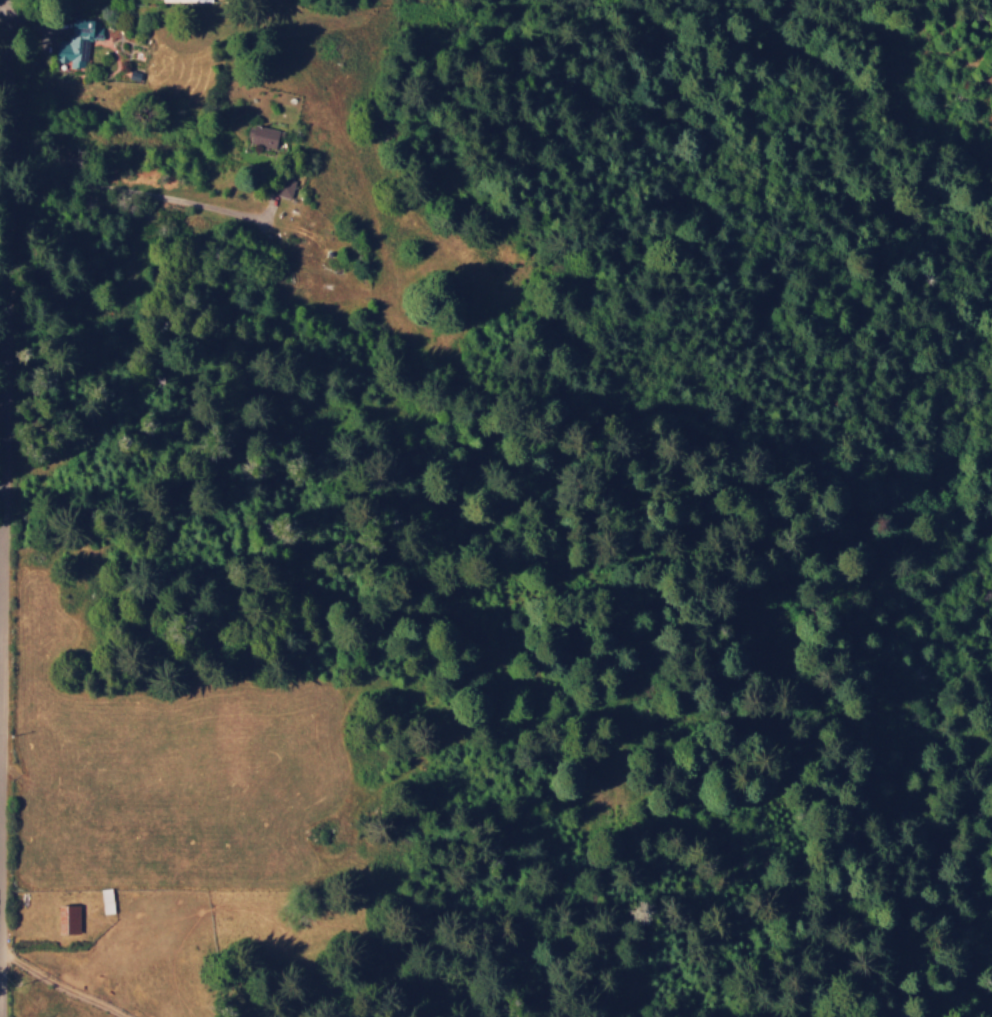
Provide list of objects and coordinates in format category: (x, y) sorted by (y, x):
road: (1, 0)
building: (184, 0)
road: (1, 14)
building: (75, 44)
building: (264, 135)
road: (6, 165)
road: (130, 174)
building: (68, 917)
road: (60, 985)

